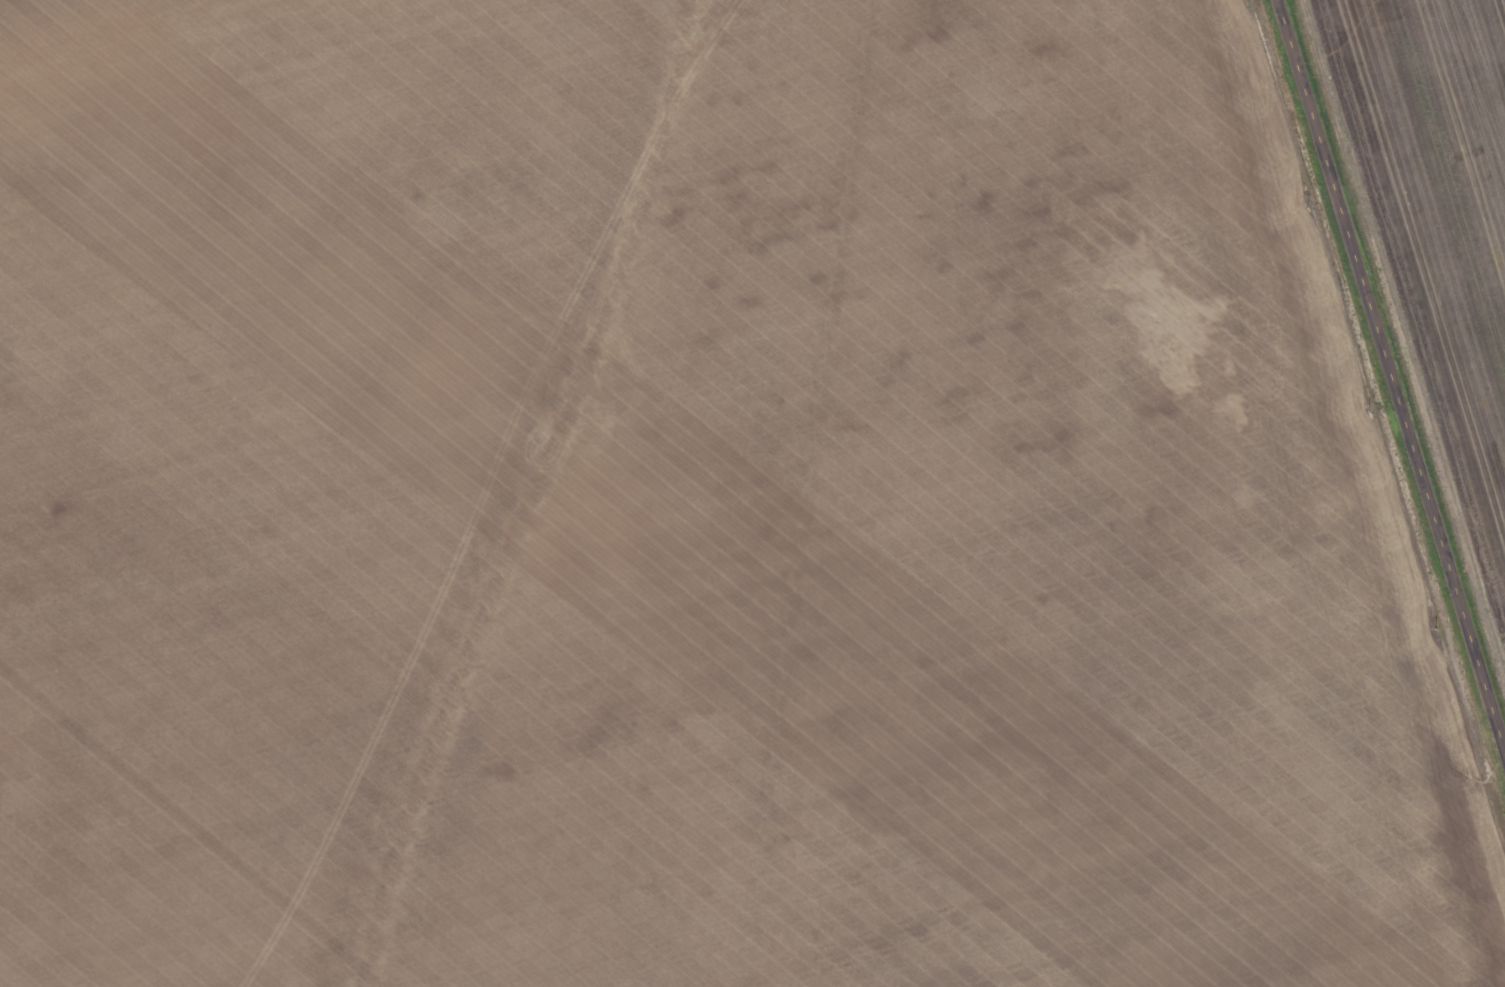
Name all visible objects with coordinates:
road: (1396, 364)

